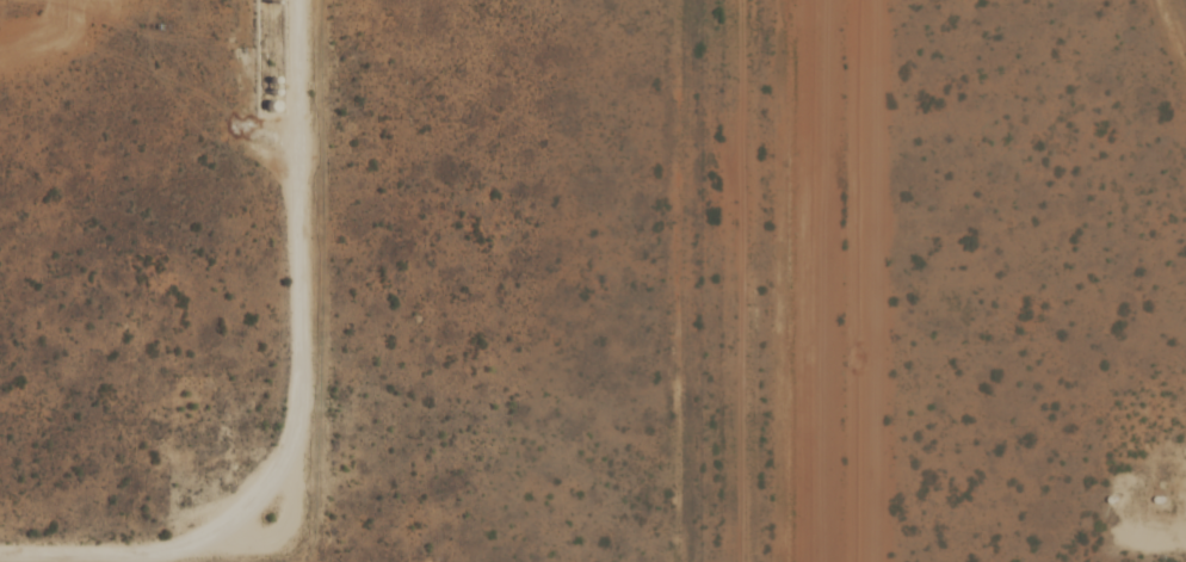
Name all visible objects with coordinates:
road: (302, 412)
road: (1151, 514)

